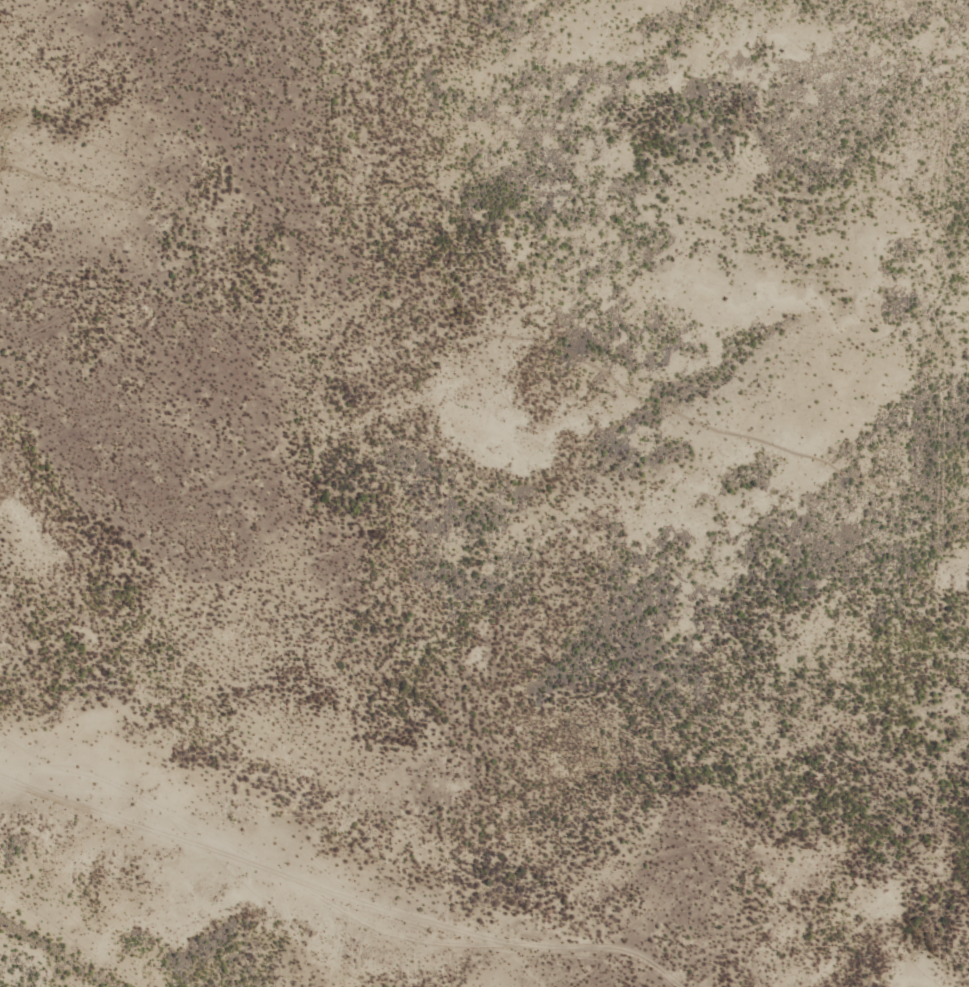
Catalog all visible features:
road: (77, 940)

